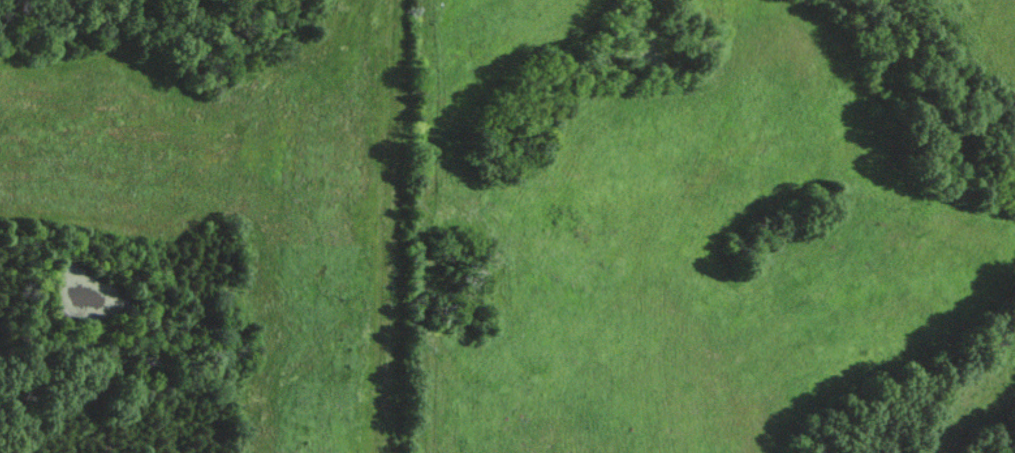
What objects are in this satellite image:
road: (402, 168)

